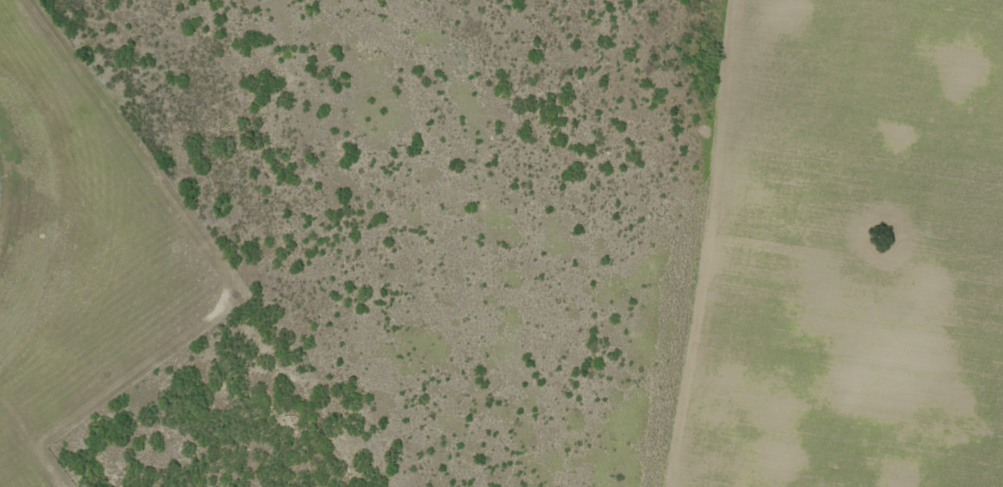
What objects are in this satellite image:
road: (879, 16)
road: (803, 250)
airport: (81, 252)

